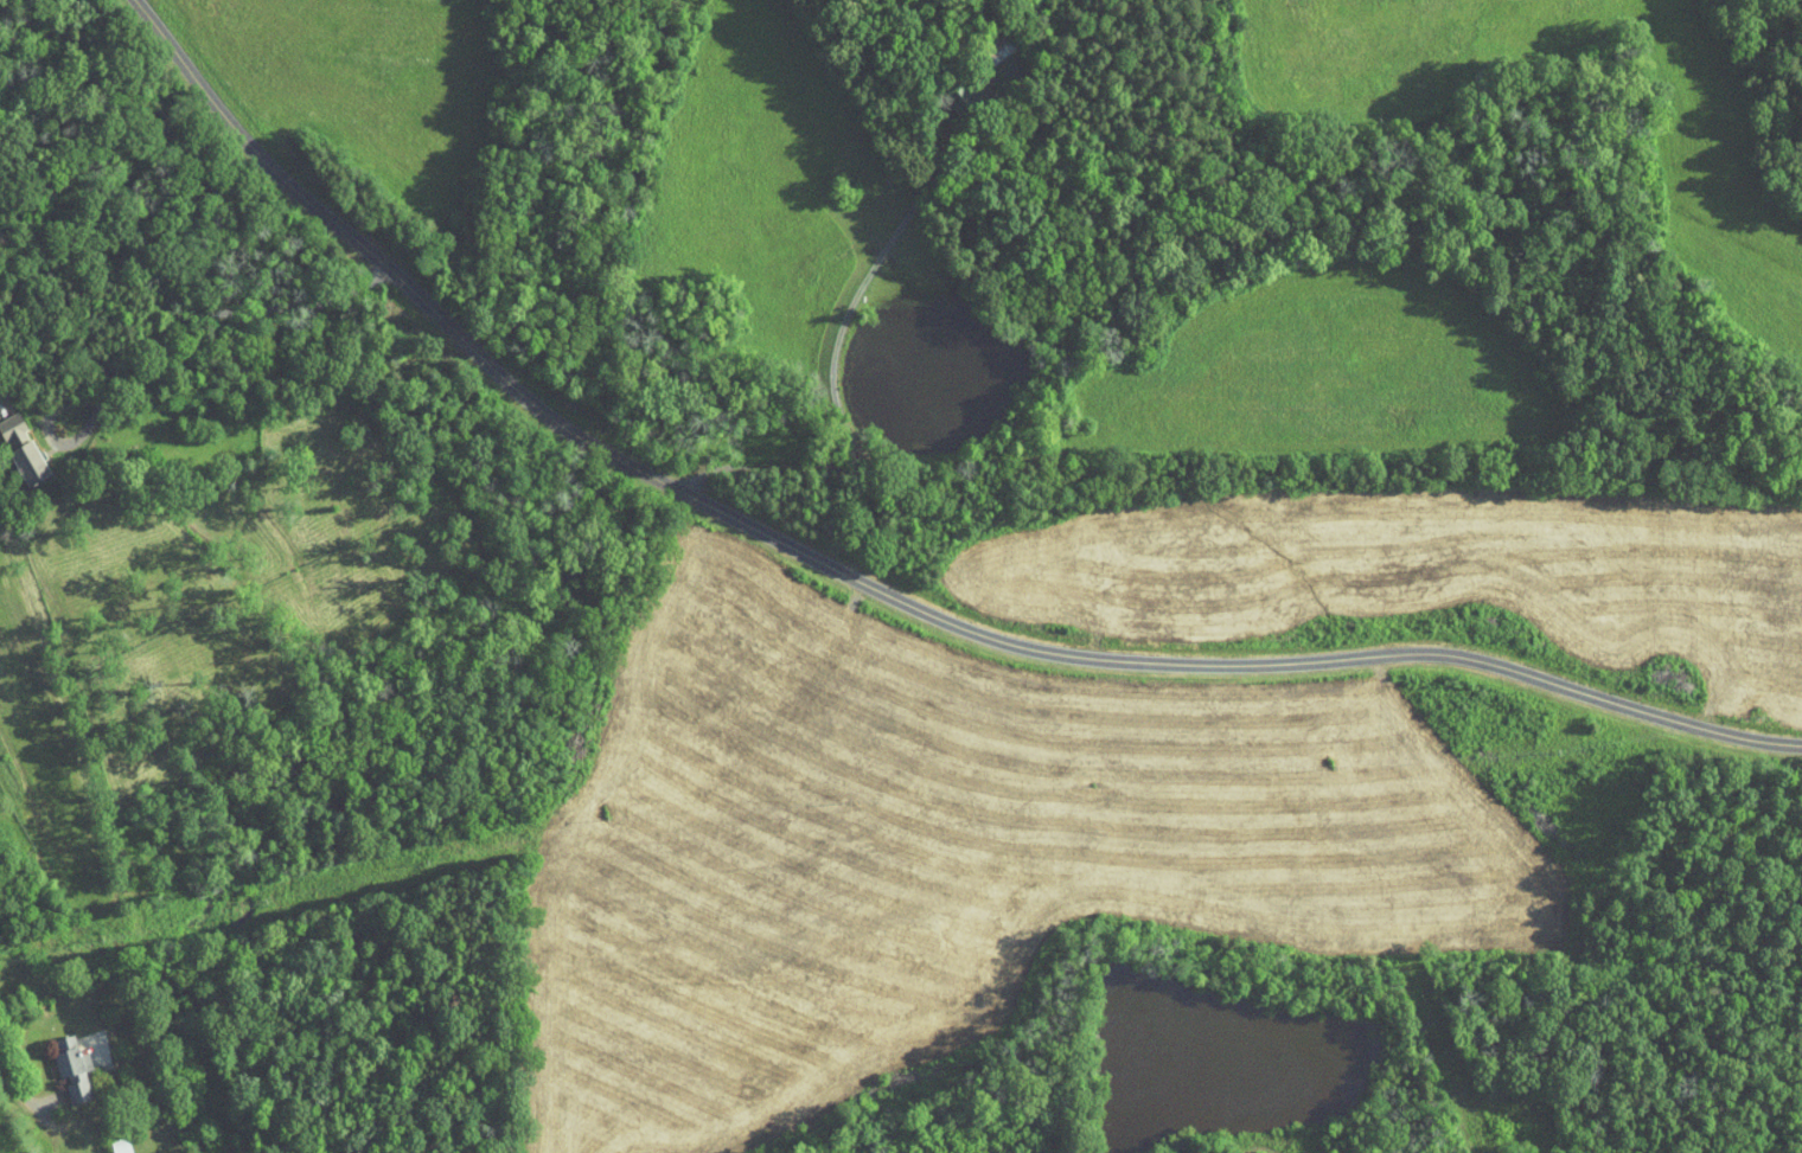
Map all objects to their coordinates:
building: (985, 40)
road: (842, 320)
road: (158, 334)
road: (8, 421)
building: (14, 446)
road: (887, 596)
building: (60, 1061)
road: (50, 1095)
building: (110, 1141)

